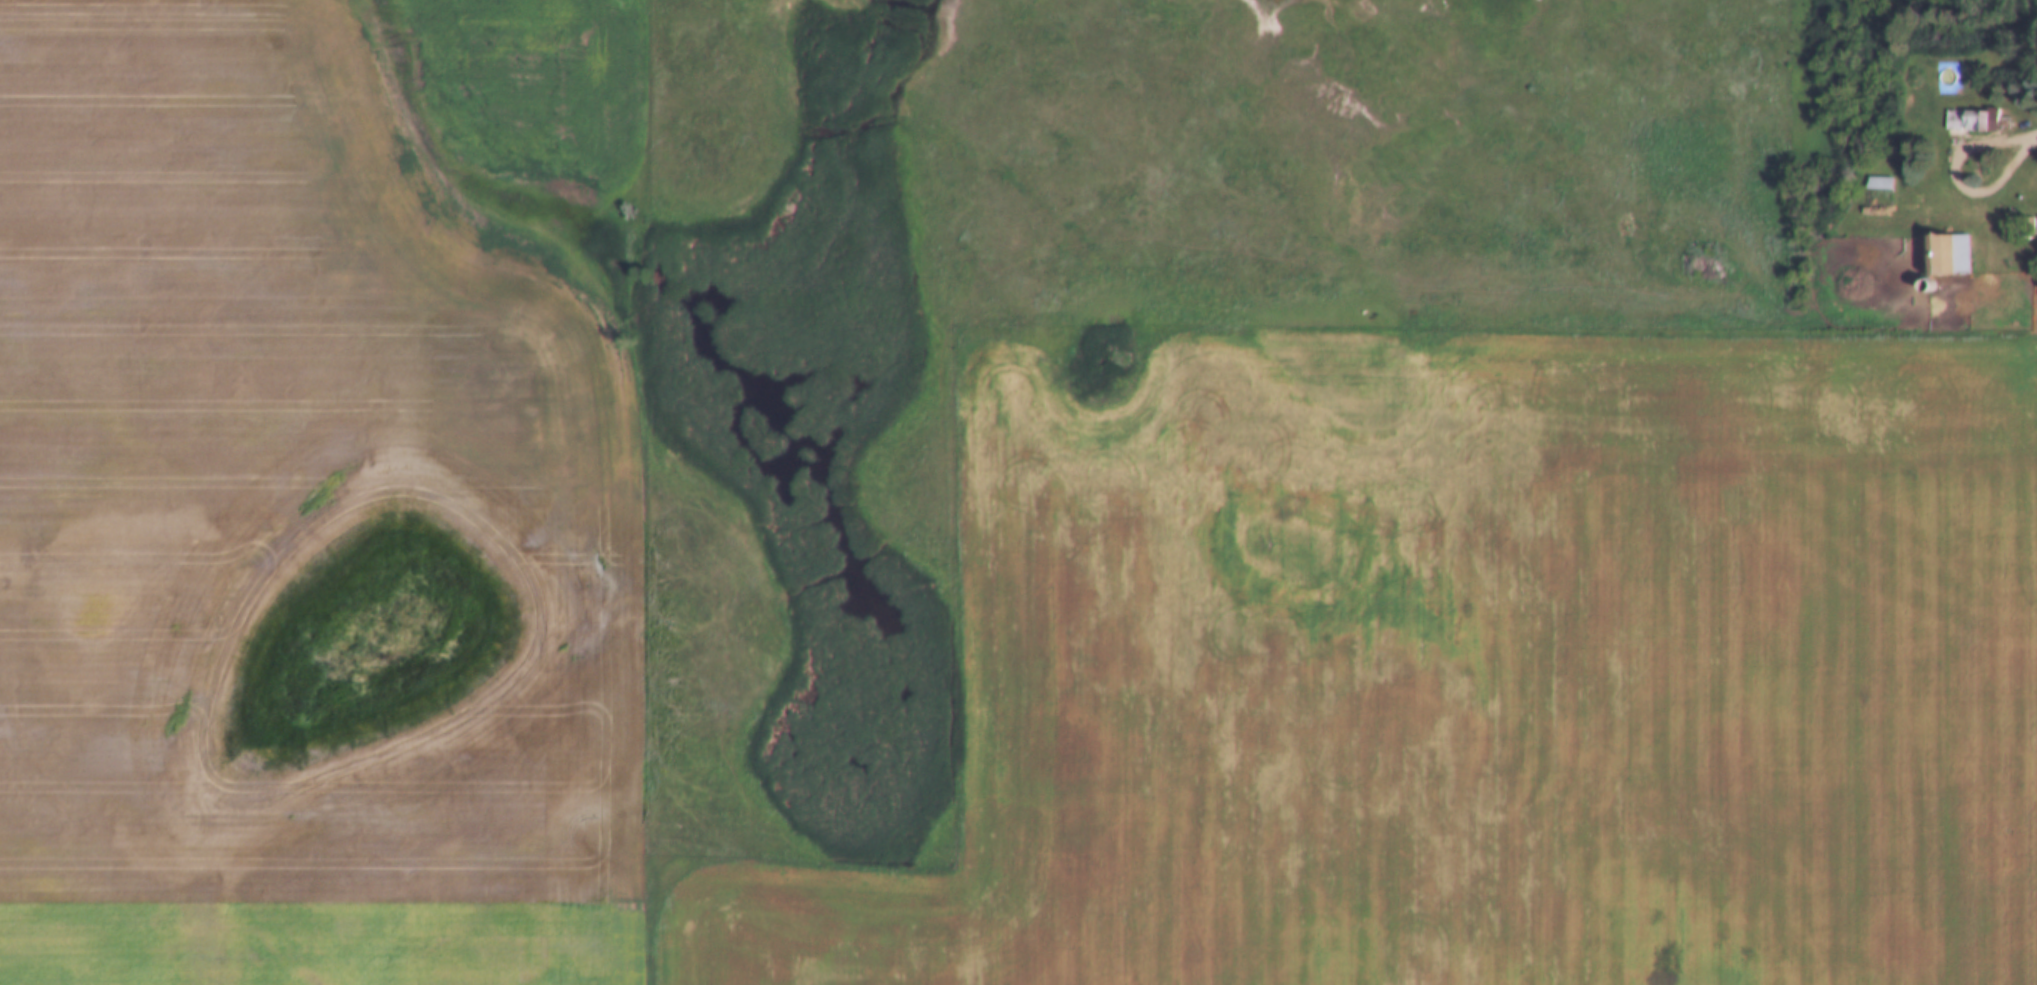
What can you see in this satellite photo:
building: (1971, 120)
road: (2033, 129)
road: (1955, 178)
building: (1881, 190)
building: (1942, 245)

